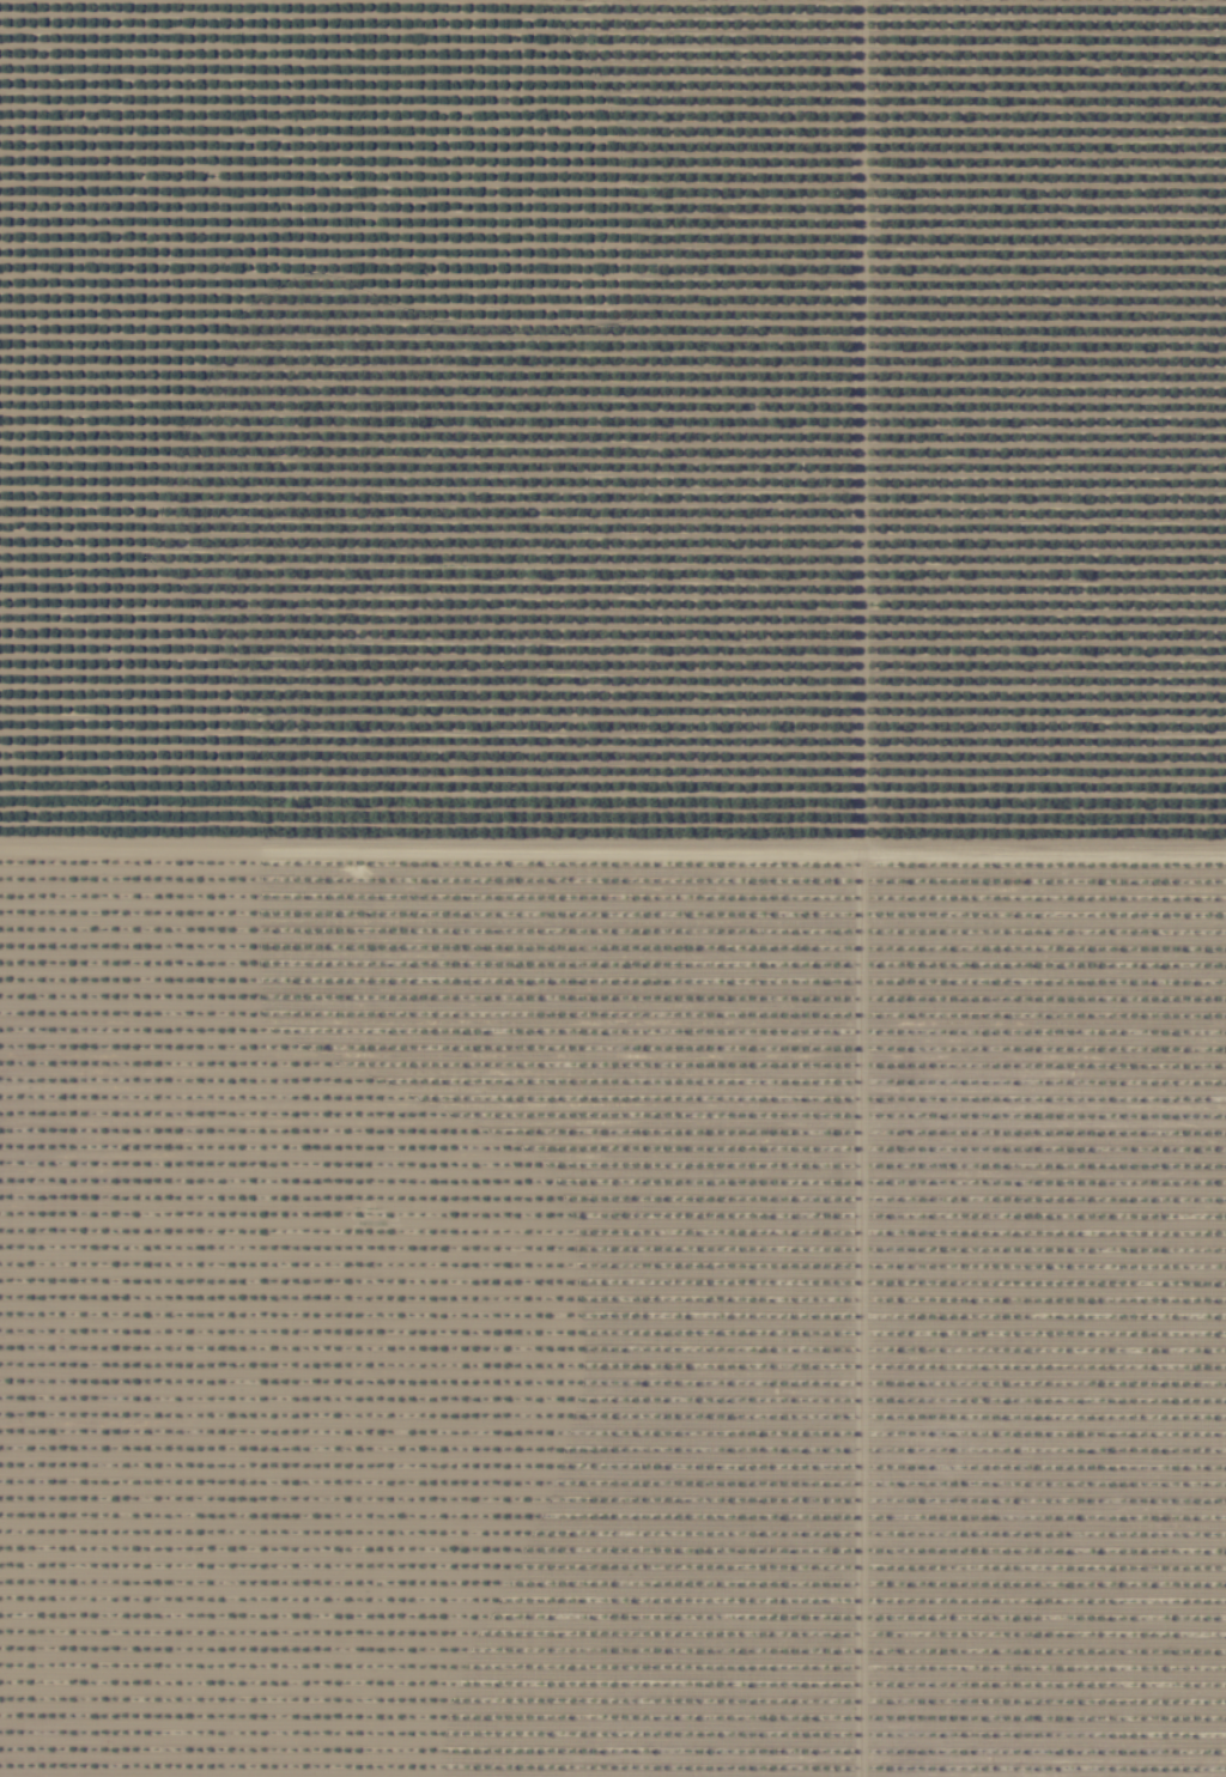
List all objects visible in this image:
road: (613, 849)

